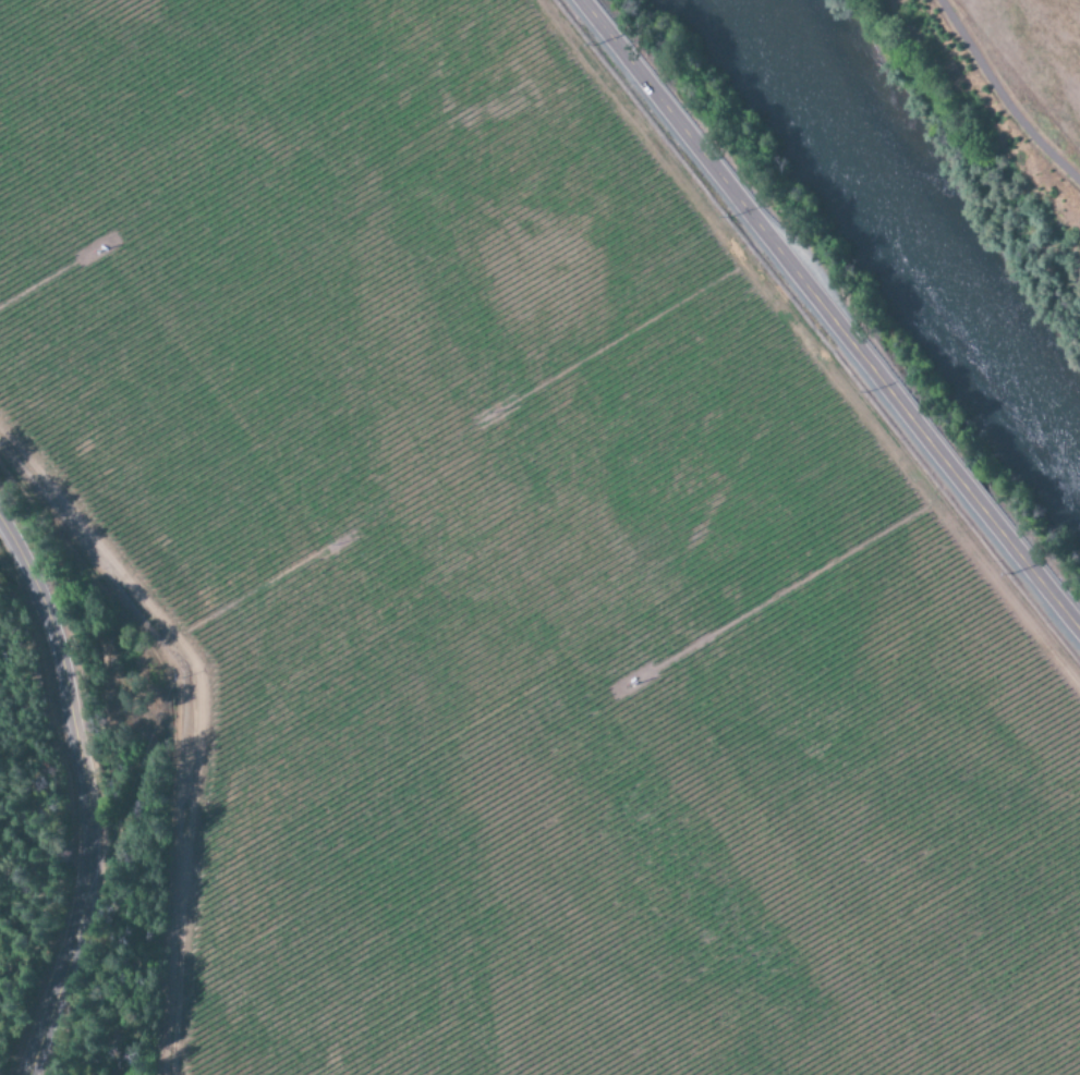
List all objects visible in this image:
road: (1002, 98)
river: (894, 237)
road: (826, 316)
road: (80, 793)

